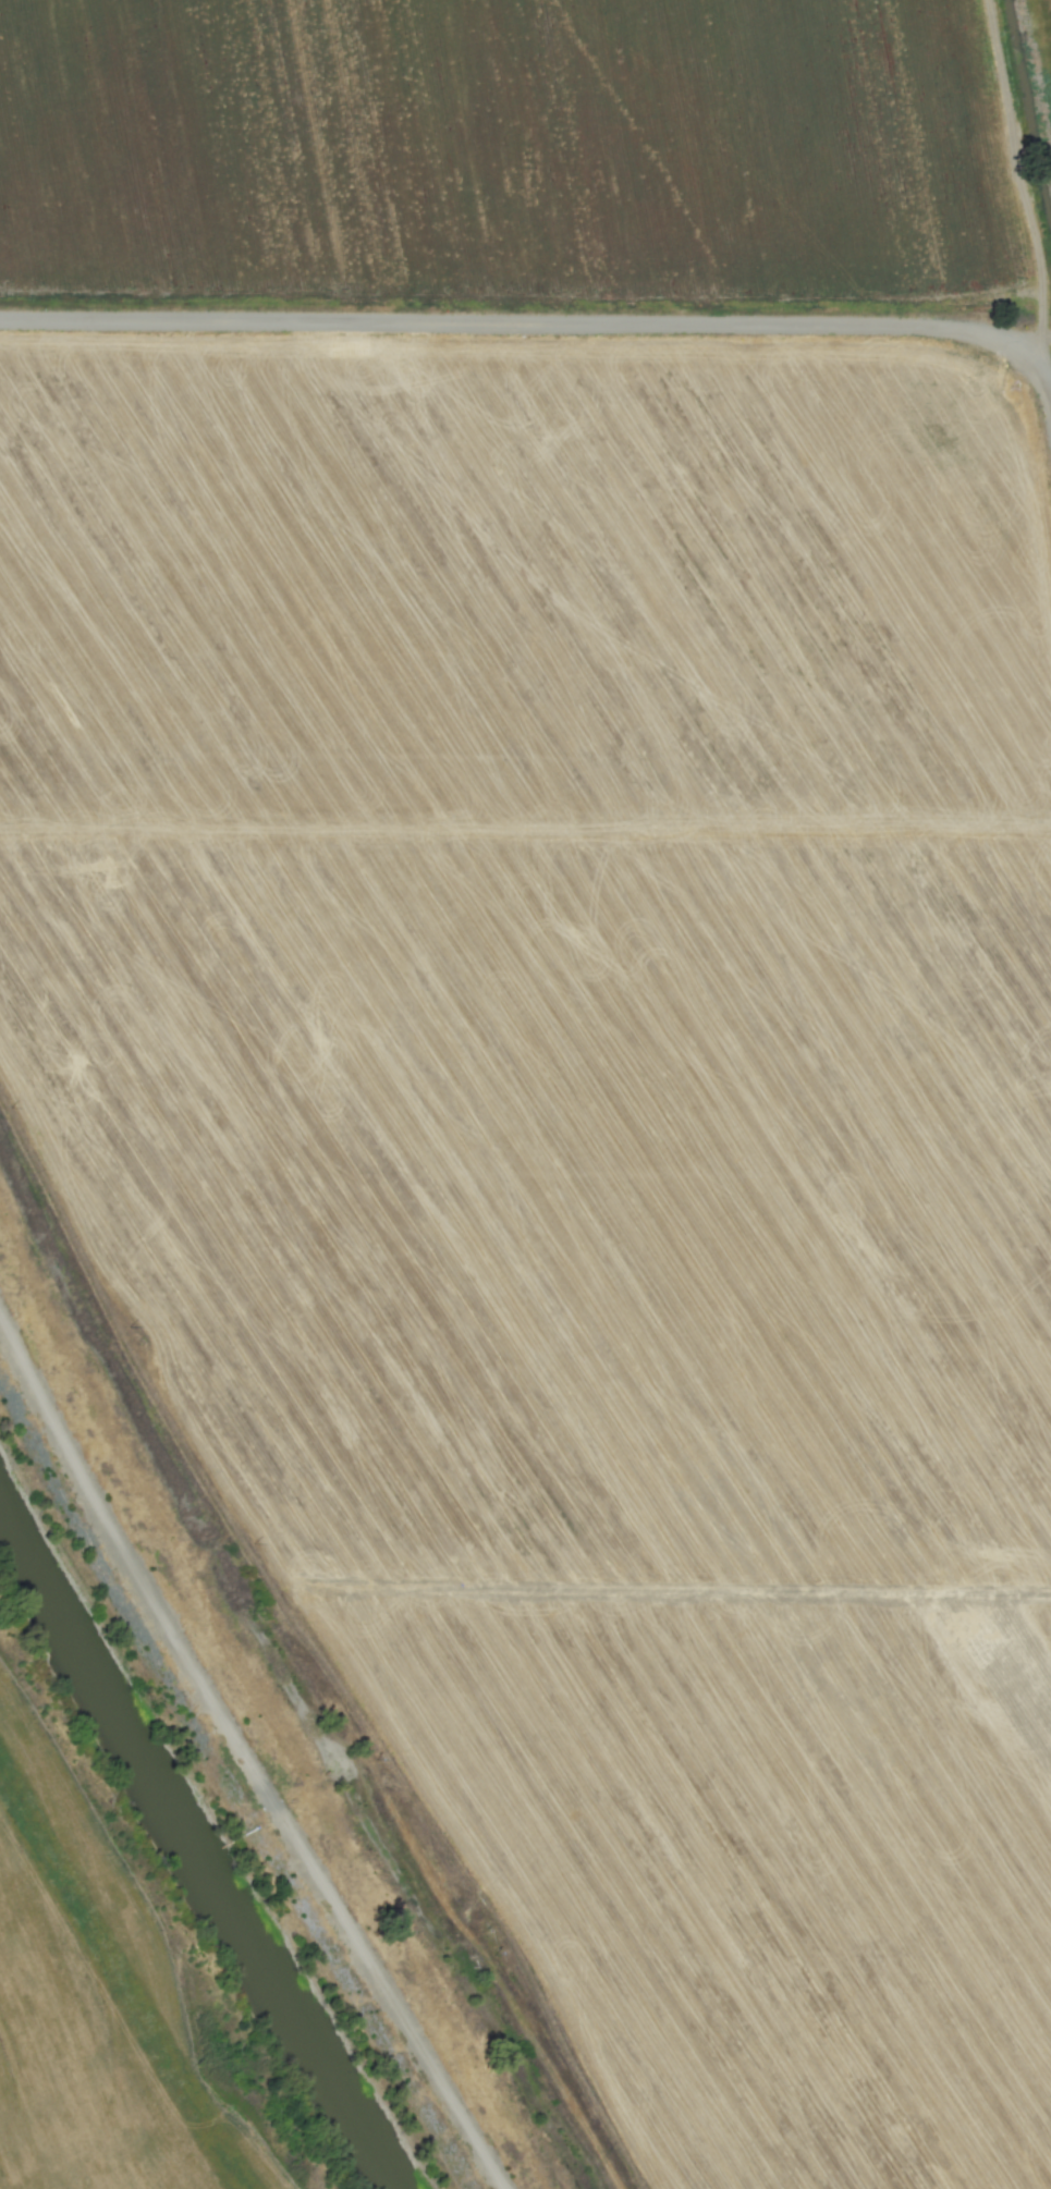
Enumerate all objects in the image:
road: (1007, 168)
road: (546, 321)
road: (1037, 341)
crop: (584, 969)
road: (243, 1753)
crop: (69, 1890)

